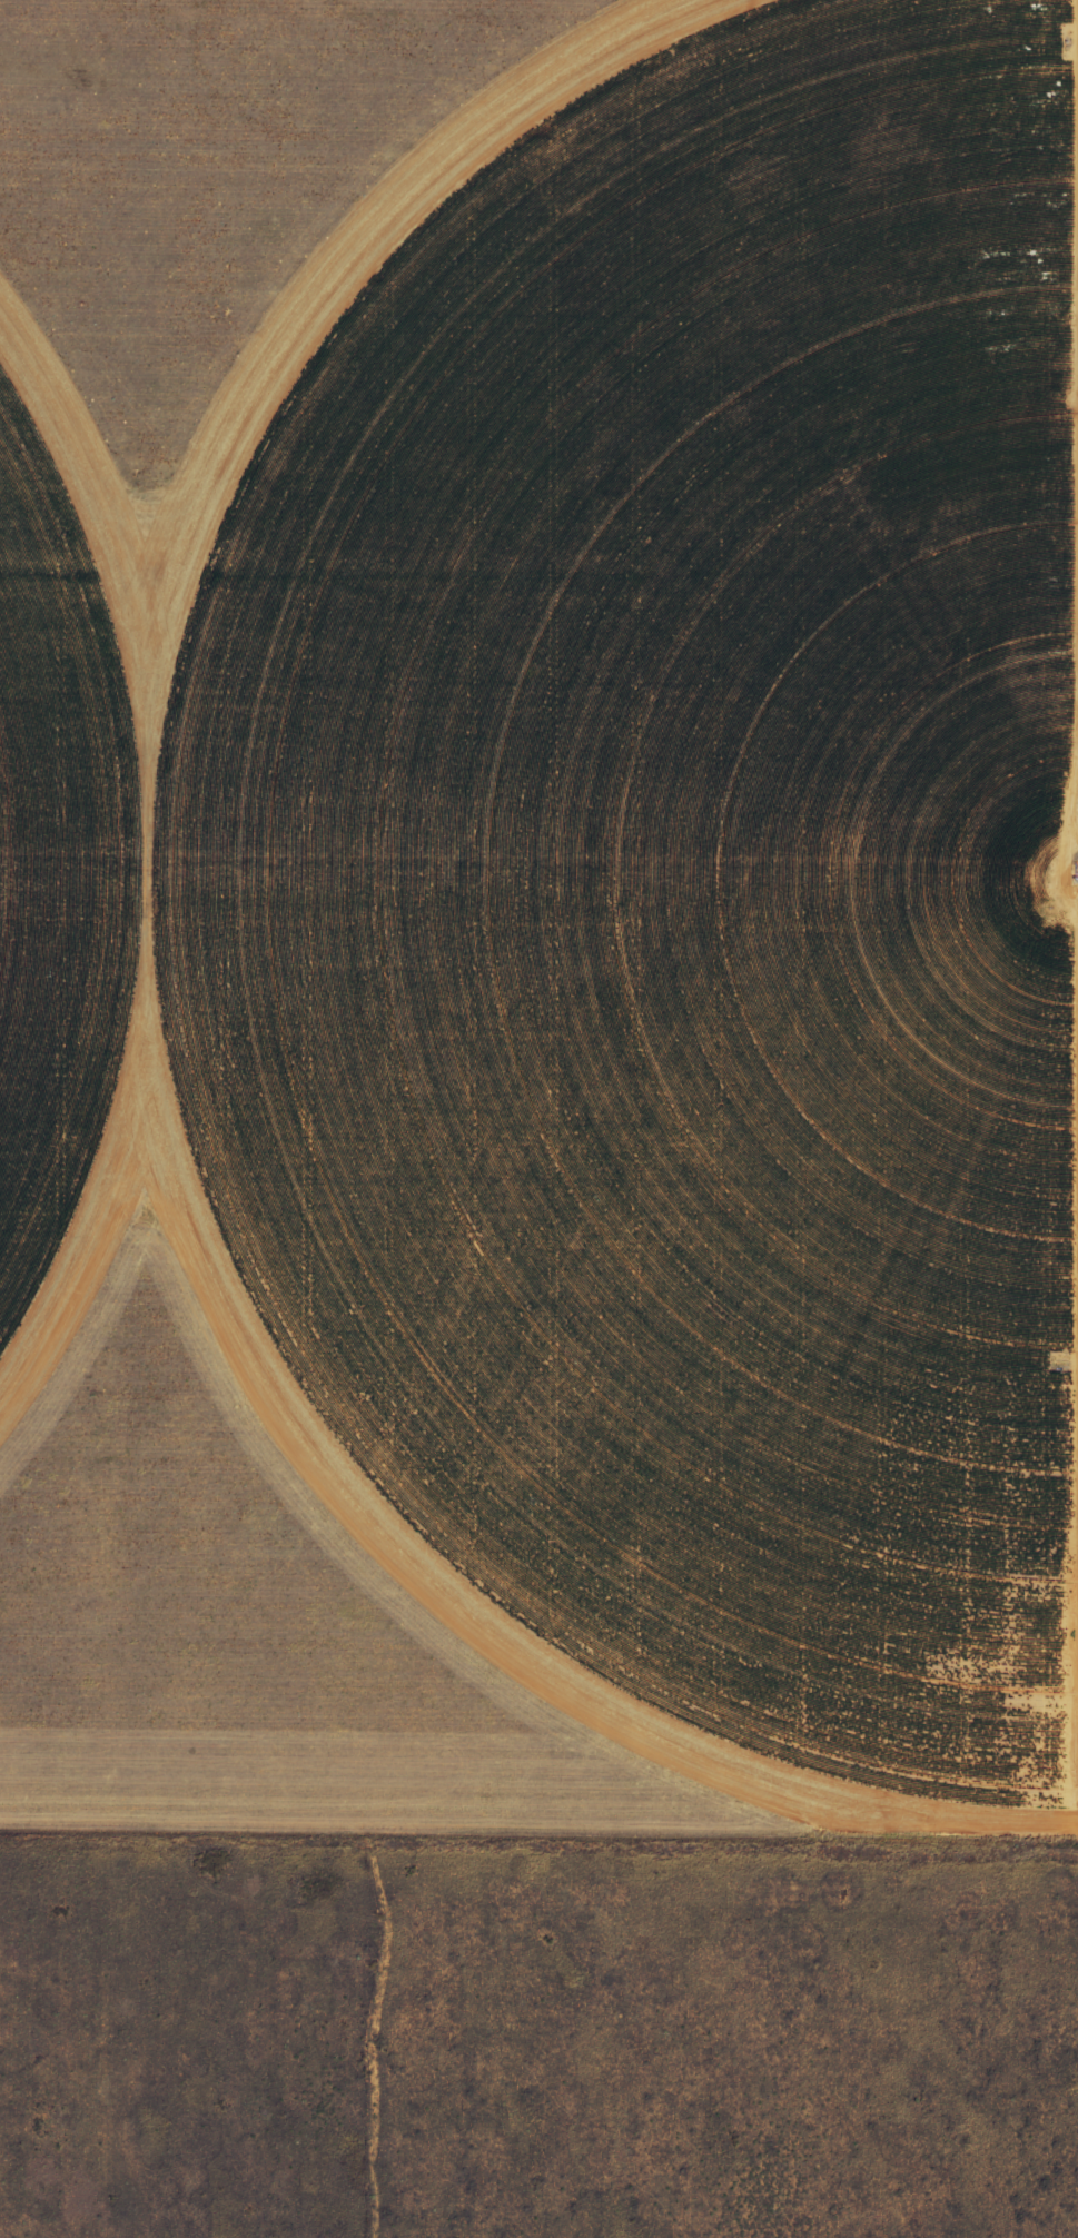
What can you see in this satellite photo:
road: (151, 907)
road: (207, 1864)

